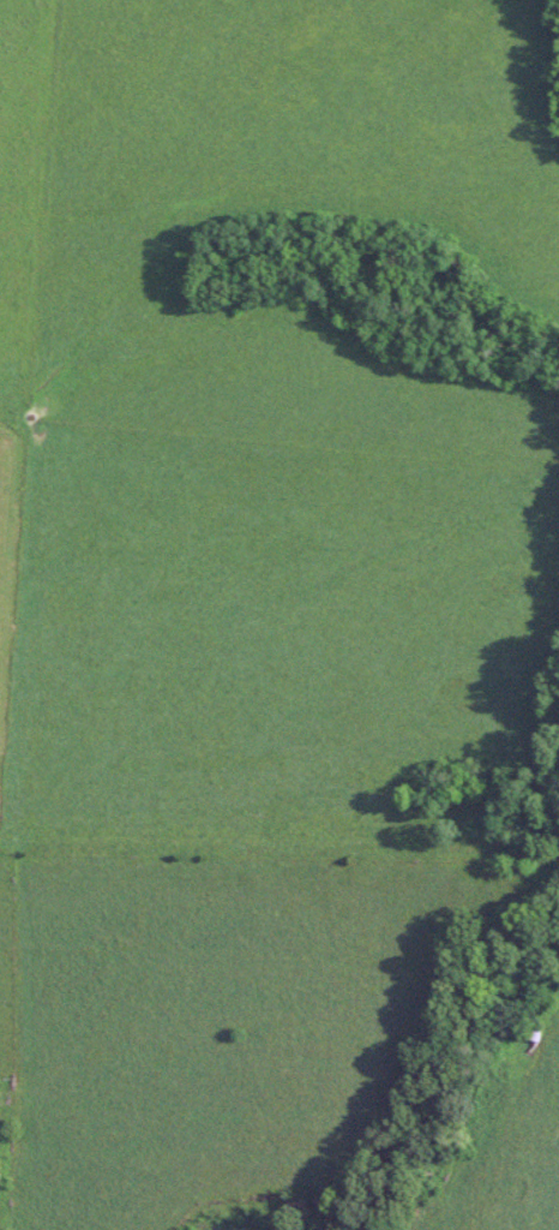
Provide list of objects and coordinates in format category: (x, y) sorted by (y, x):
building: (512, 1027)

